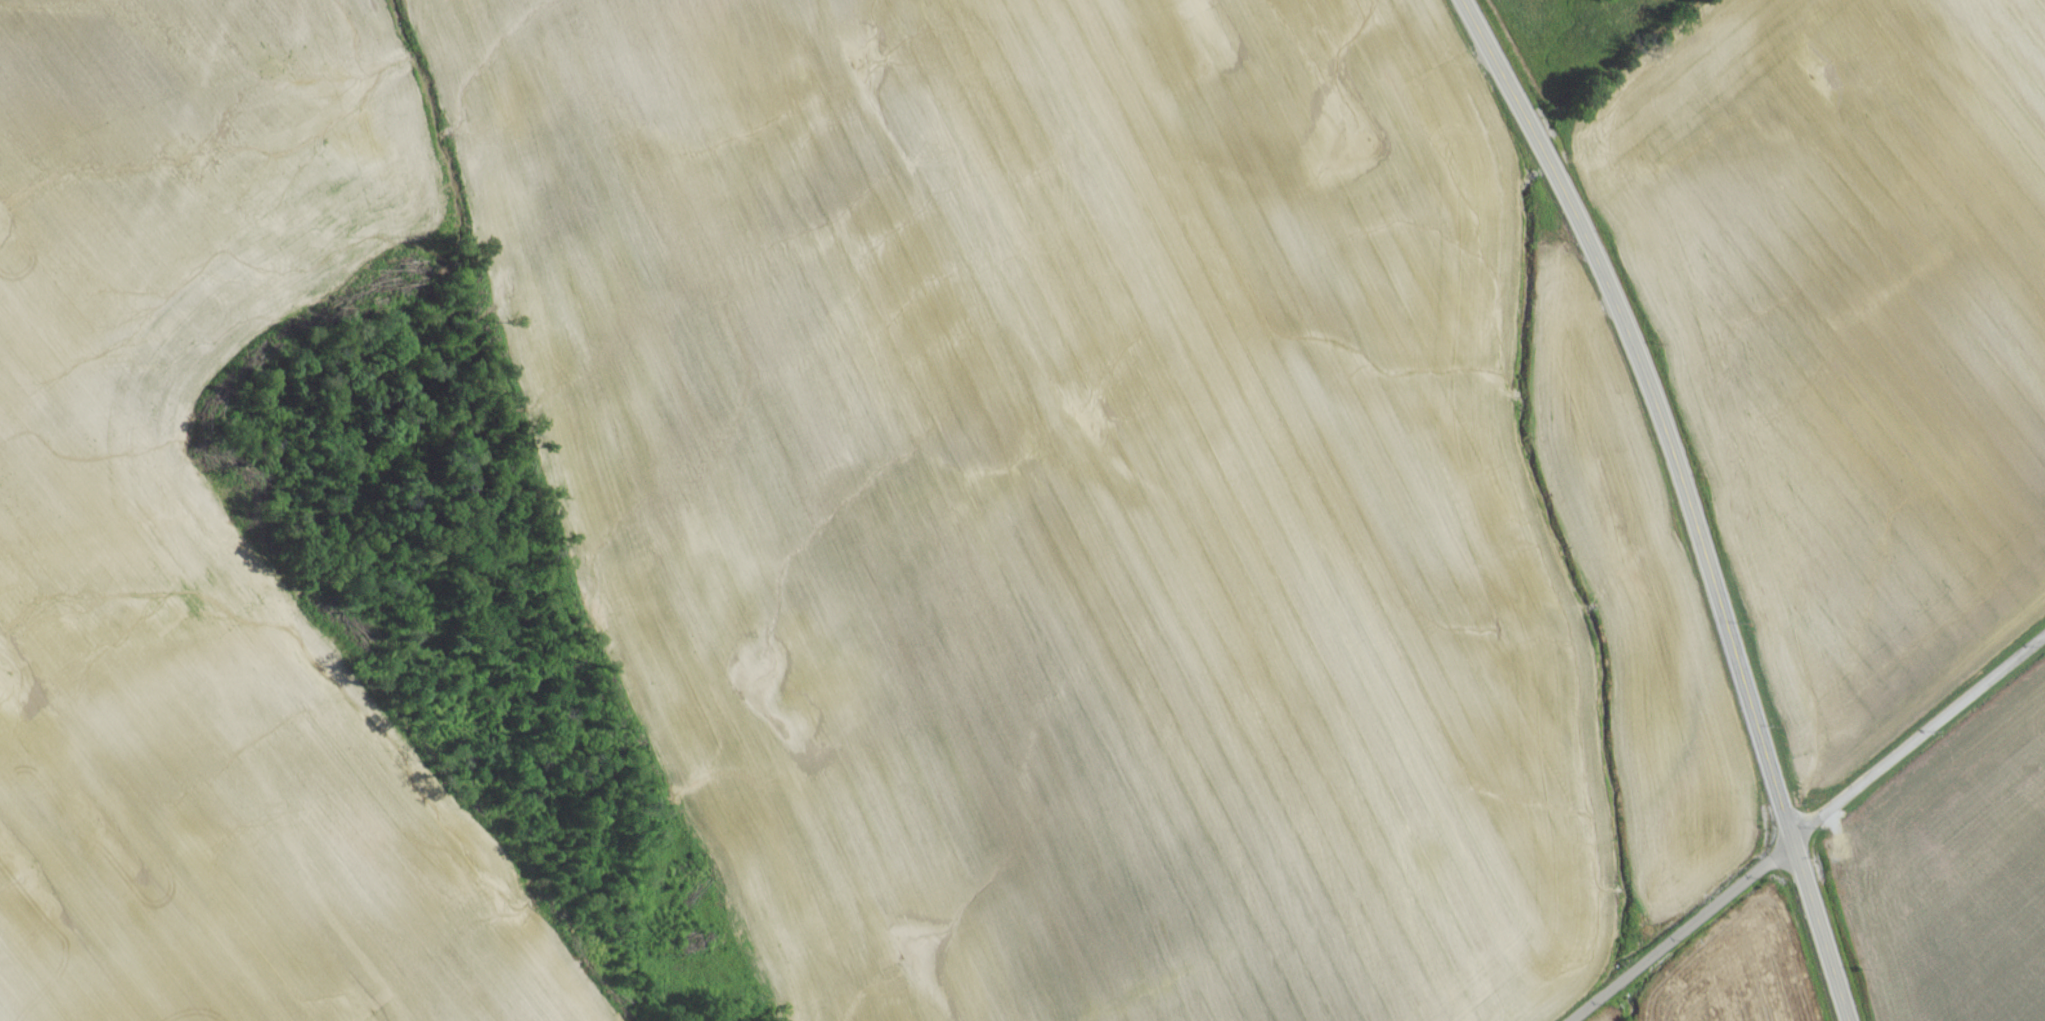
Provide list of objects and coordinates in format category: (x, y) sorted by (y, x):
road: (1684, 497)
road: (1918, 742)
road: (1681, 933)

